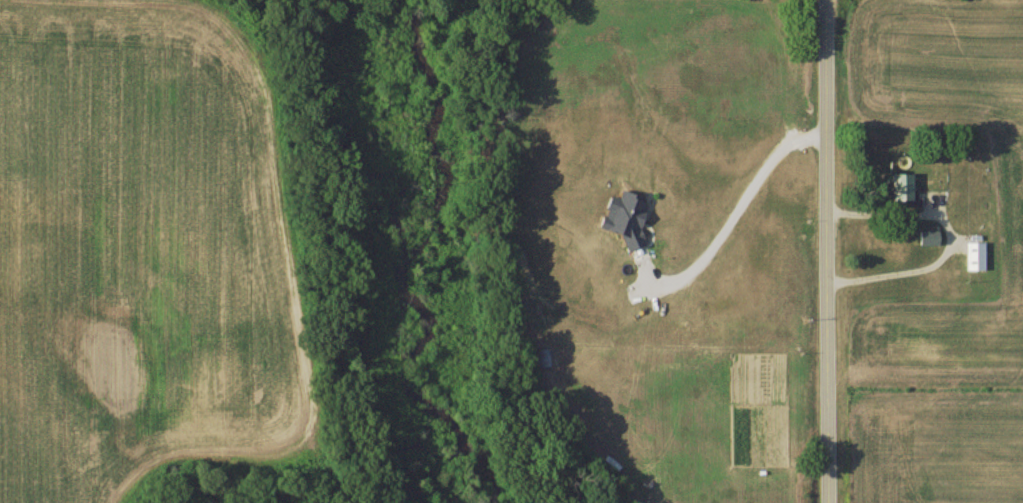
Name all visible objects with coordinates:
building: (906, 189)
road: (737, 214)
building: (931, 239)
road: (942, 244)
road: (822, 251)
building: (978, 257)

